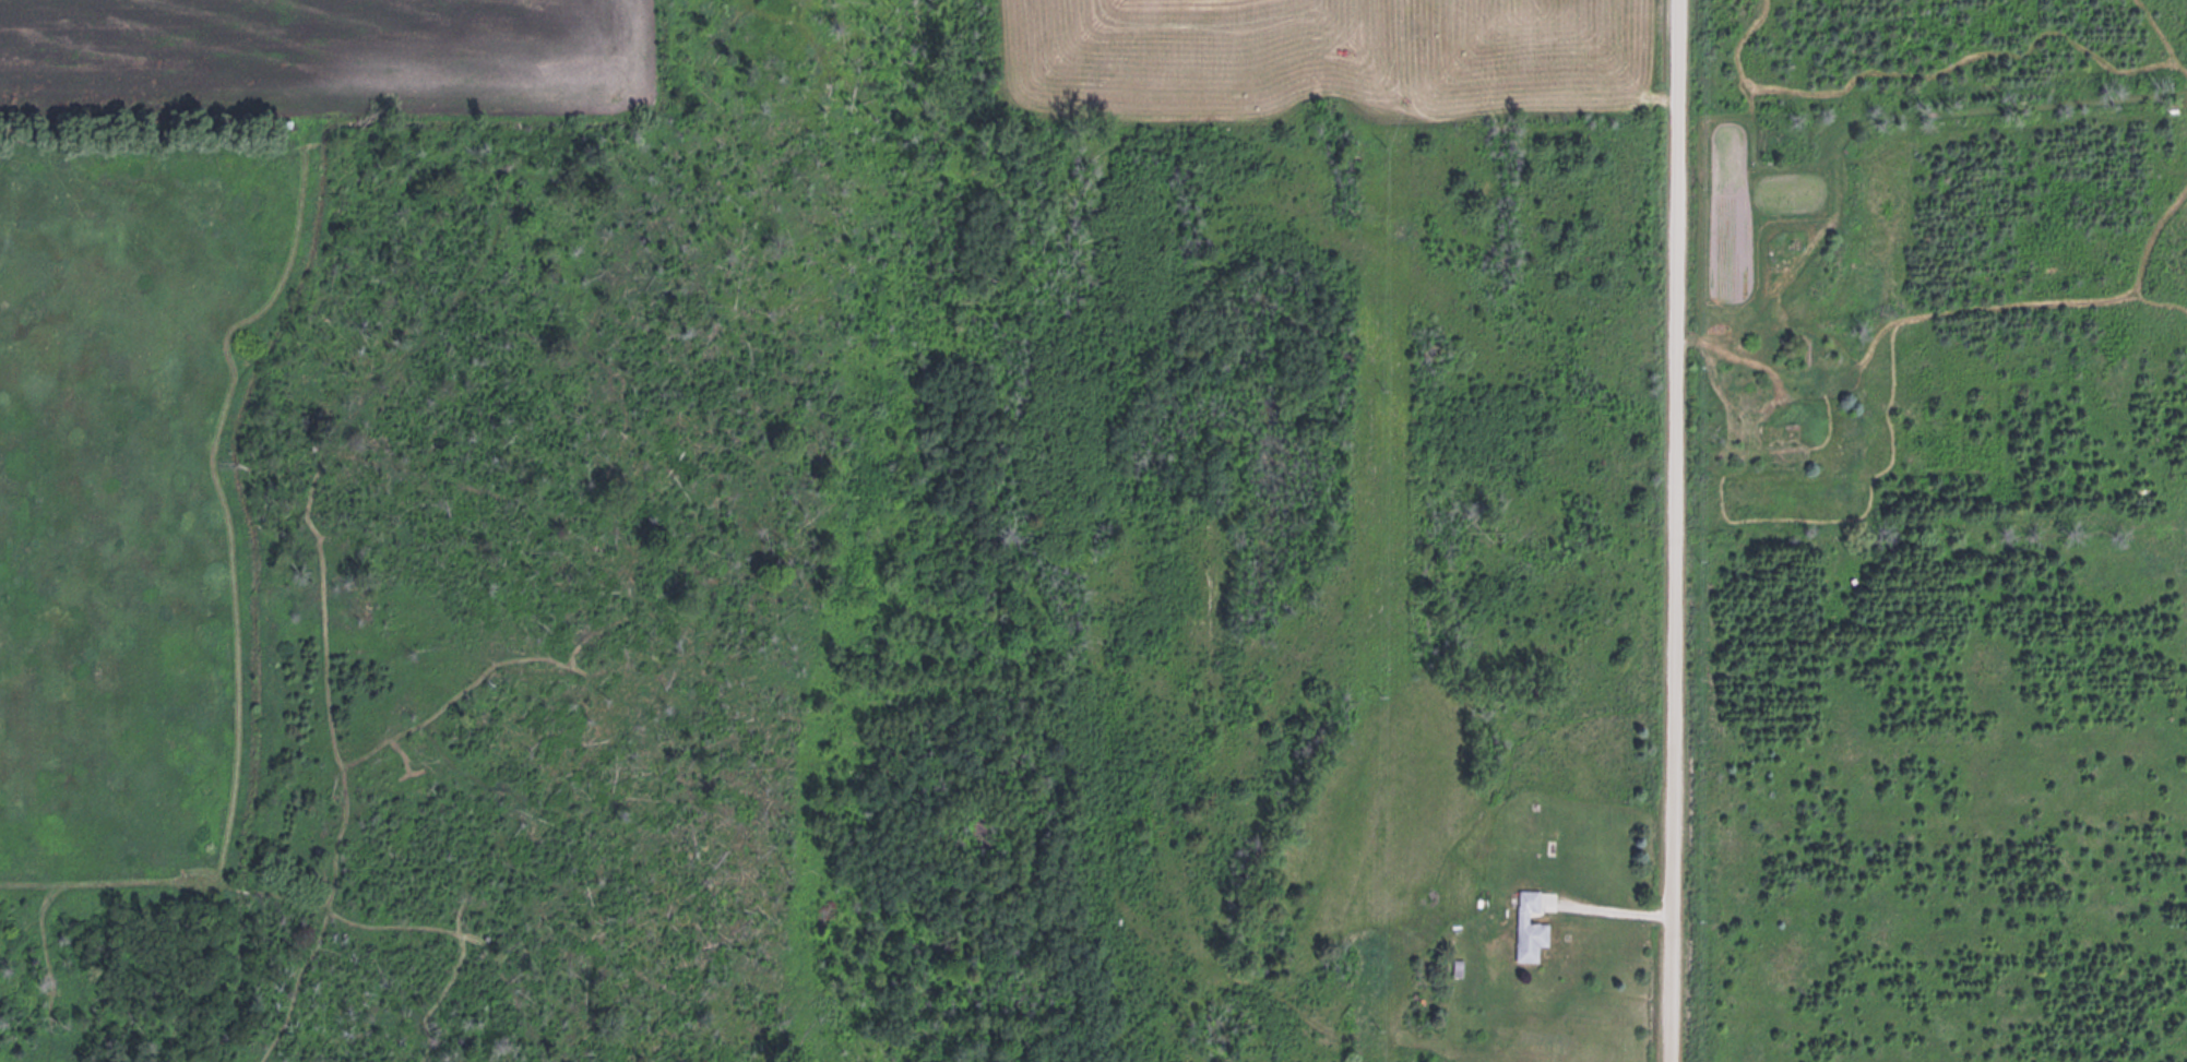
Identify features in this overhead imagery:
road: (1673, 530)
building: (1547, 840)
road: (1612, 907)
building: (1528, 923)

